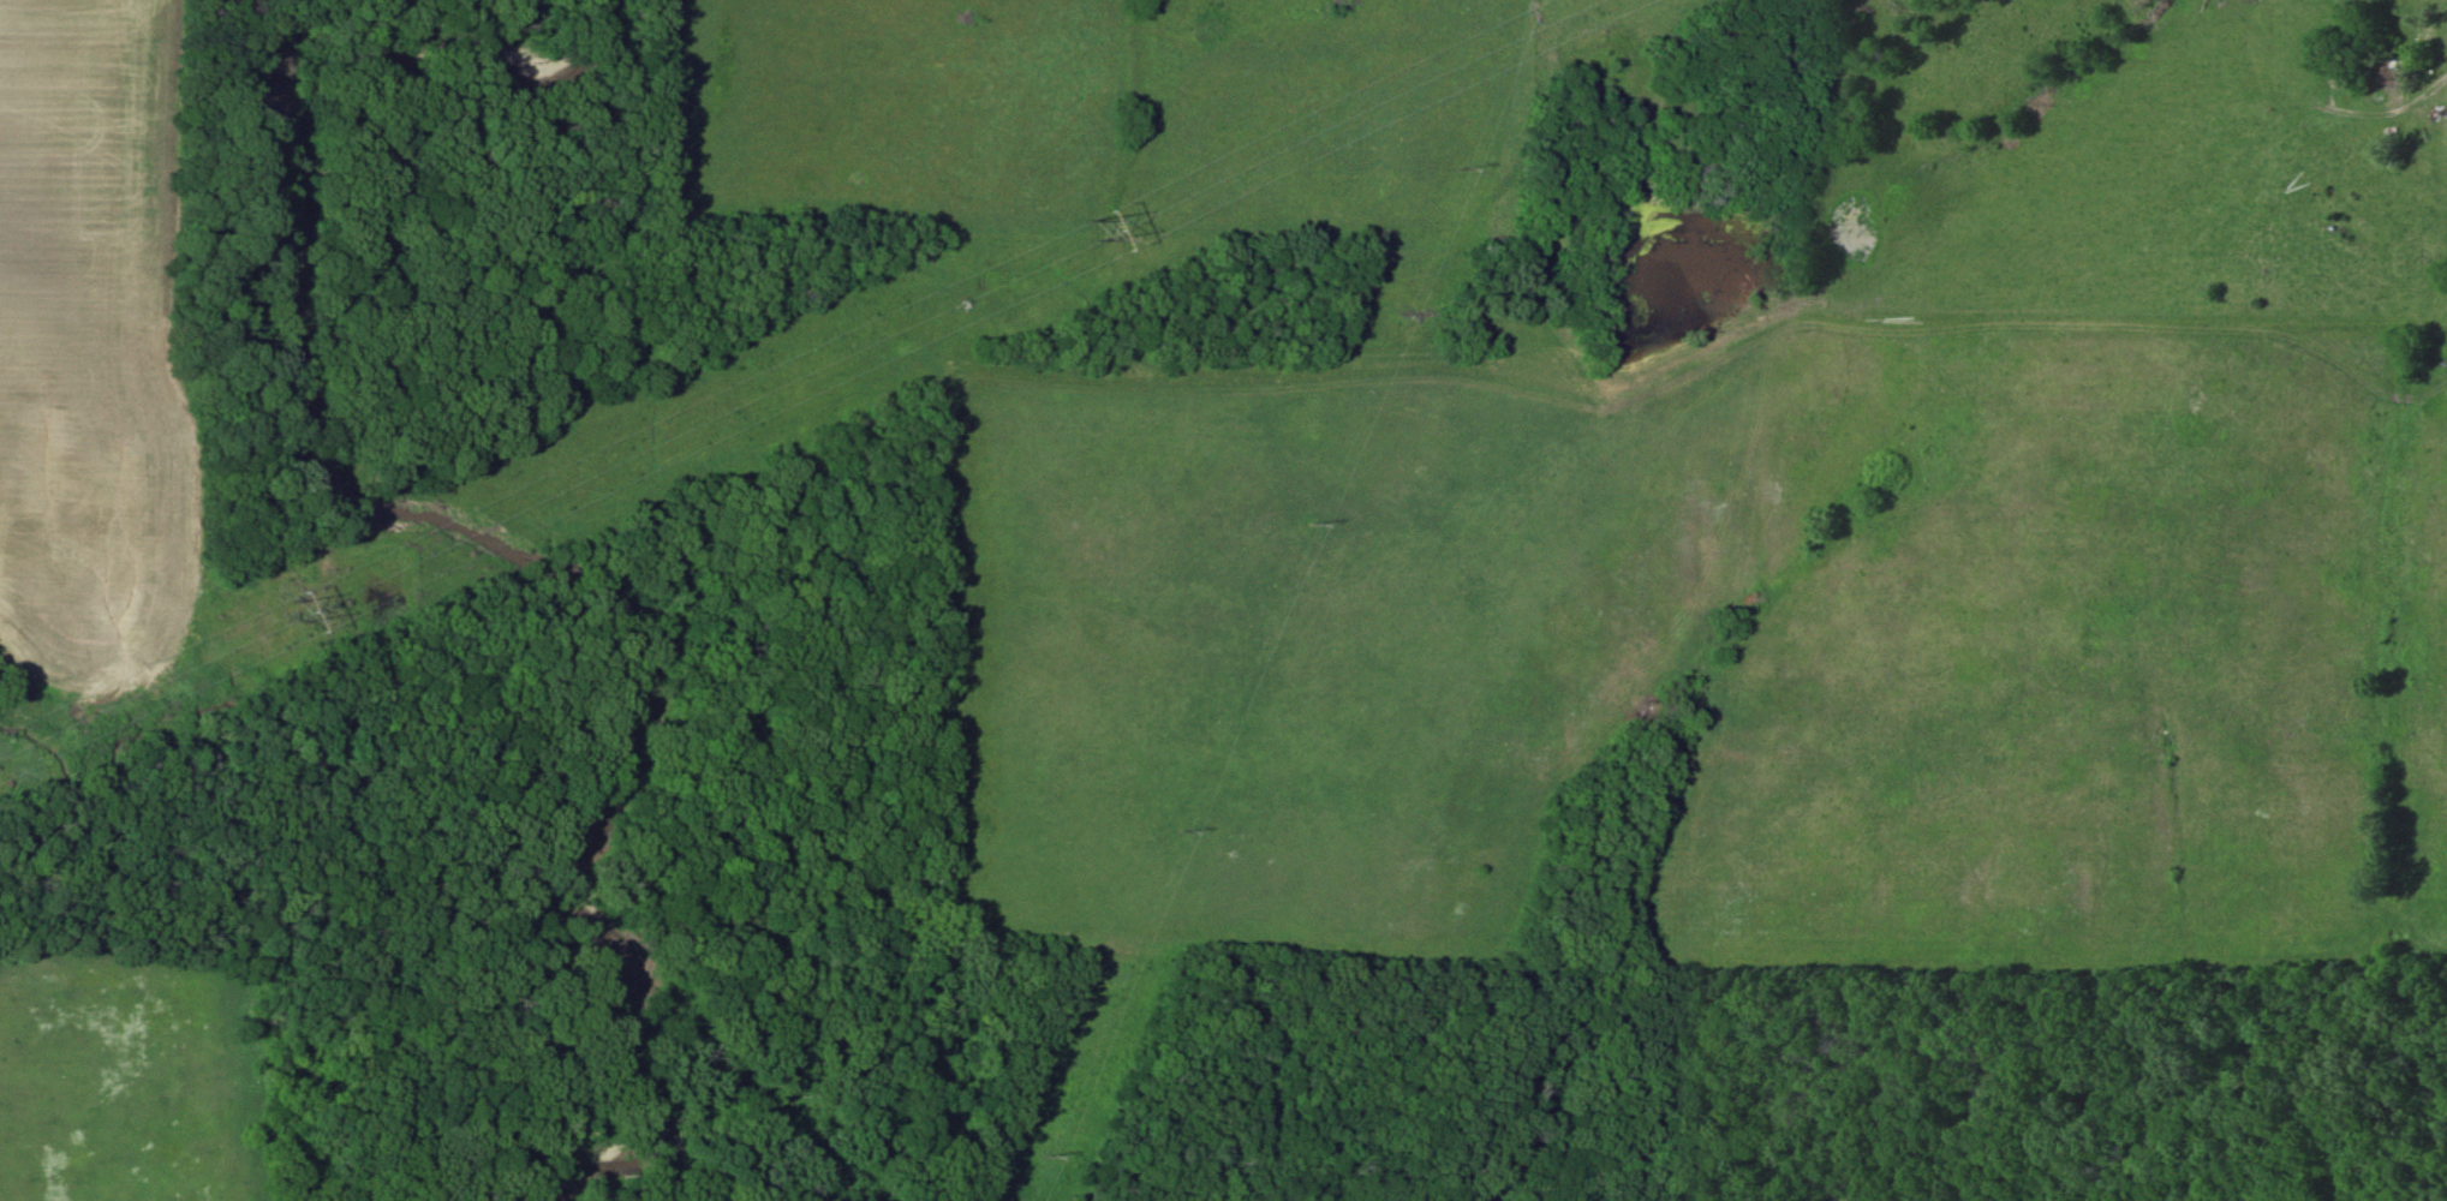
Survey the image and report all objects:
power tower: (1094, 232)
power tower: (293, 619)

